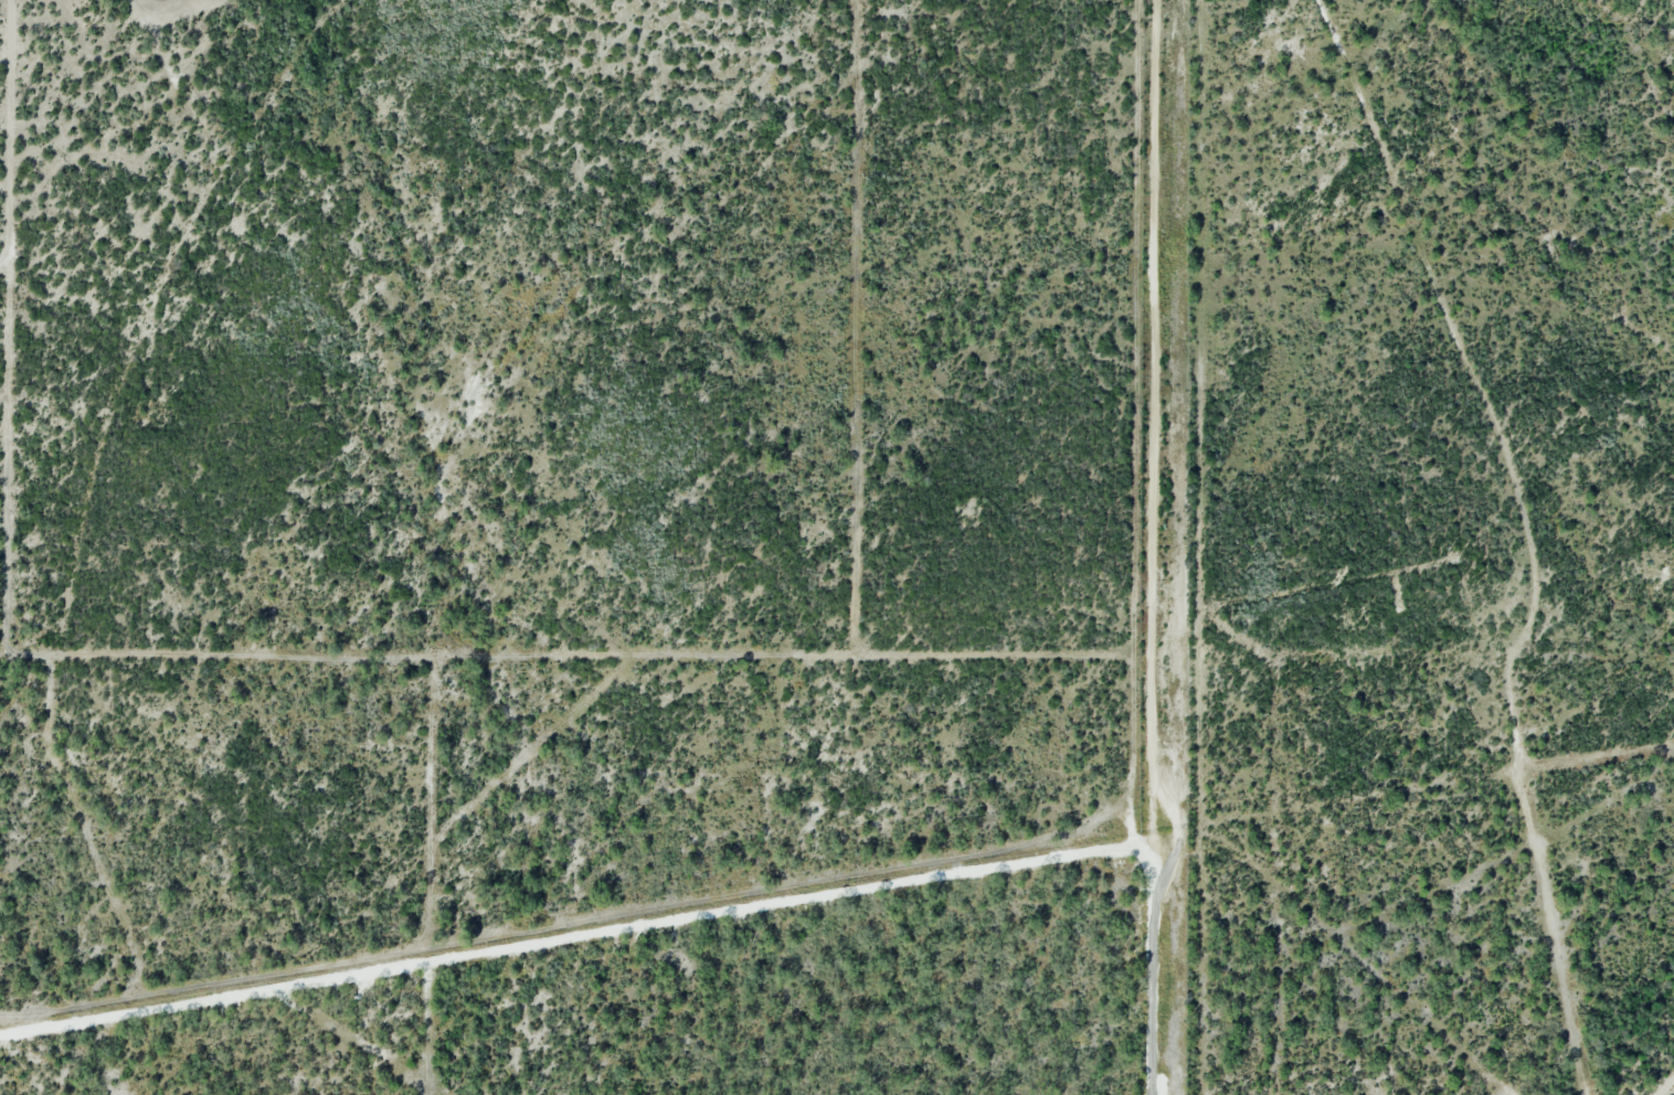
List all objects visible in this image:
road: (699, 921)

